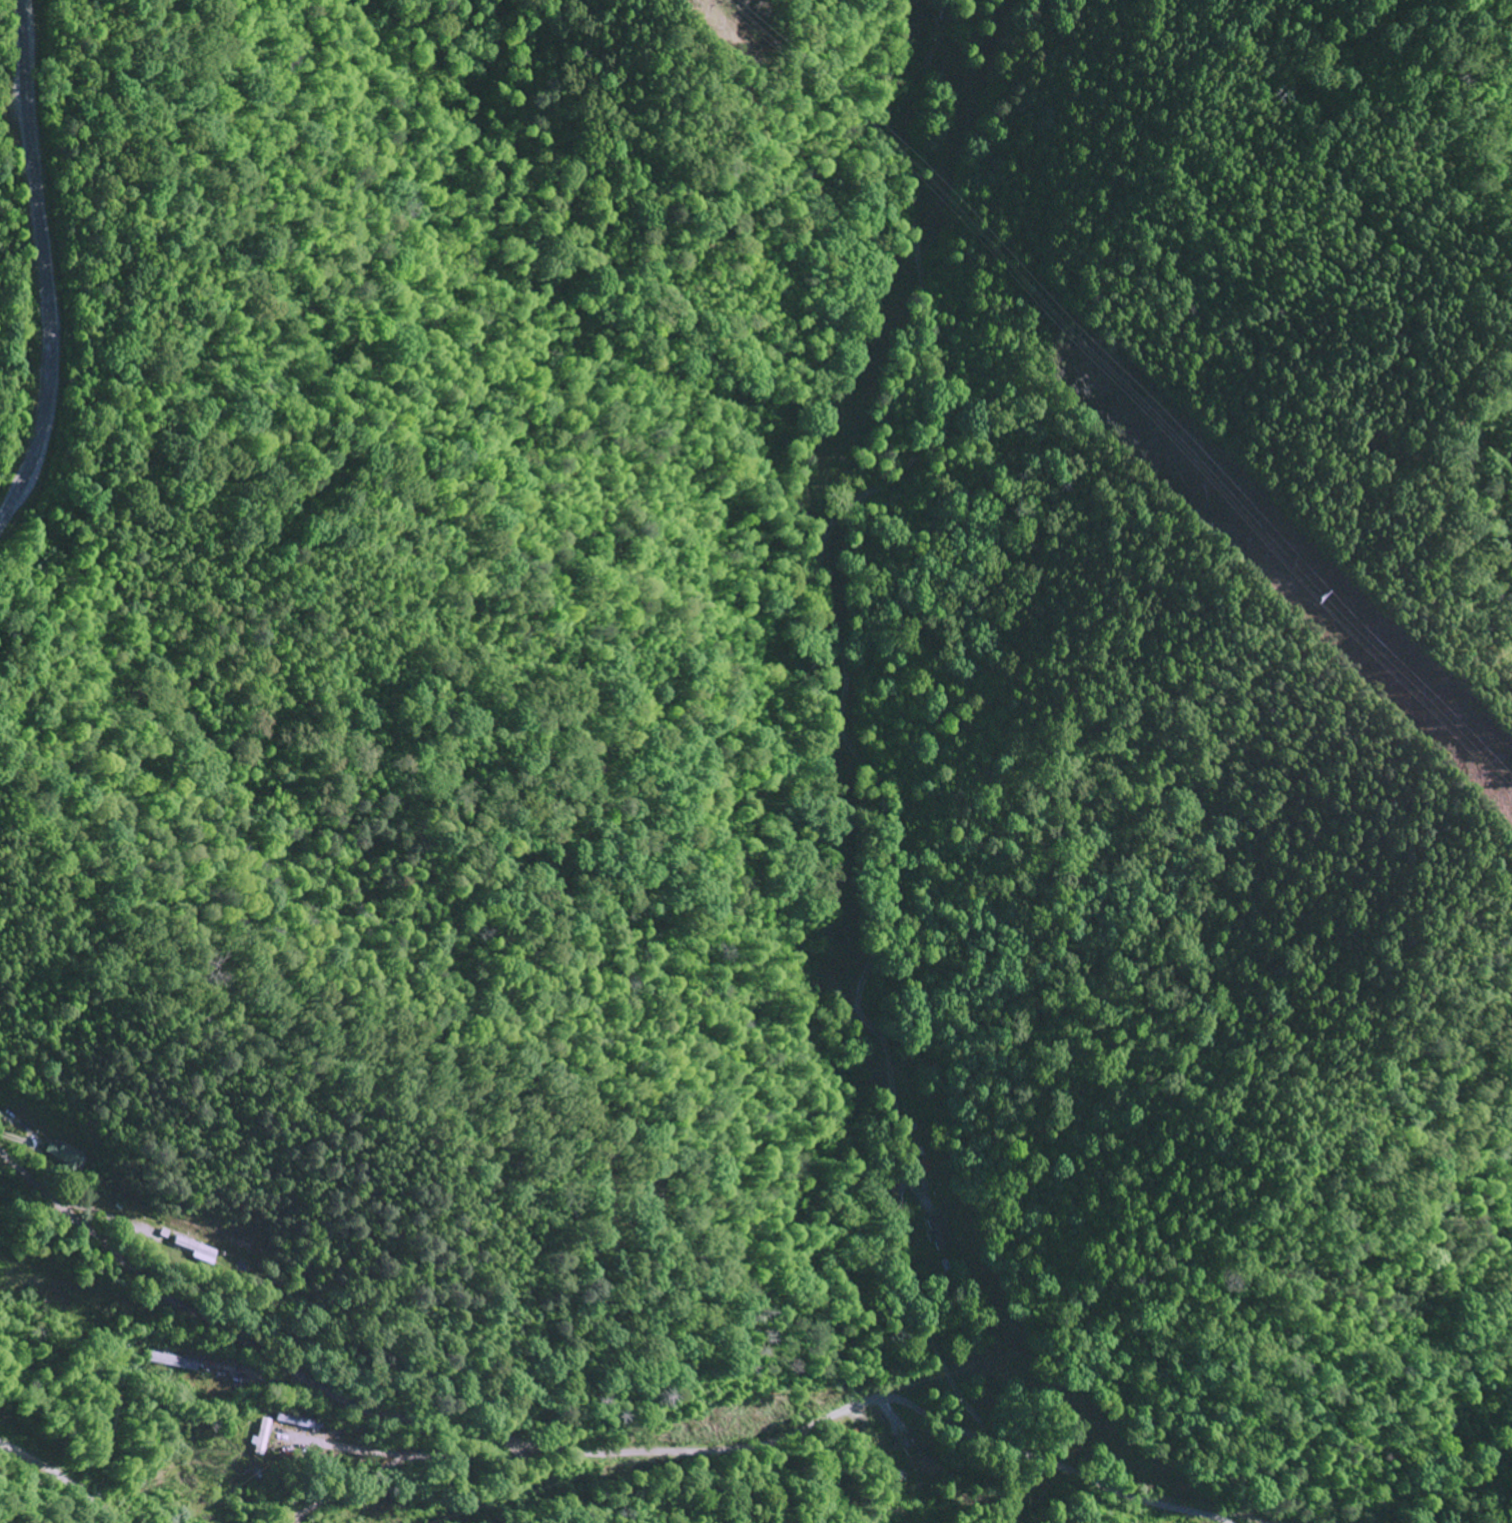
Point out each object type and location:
road: (36, 255)
power tower: (1308, 597)
building: (932, 1235)
road: (945, 1298)
building: (260, 1438)
road: (589, 1447)
building: (923, 1464)
road: (56, 1479)

